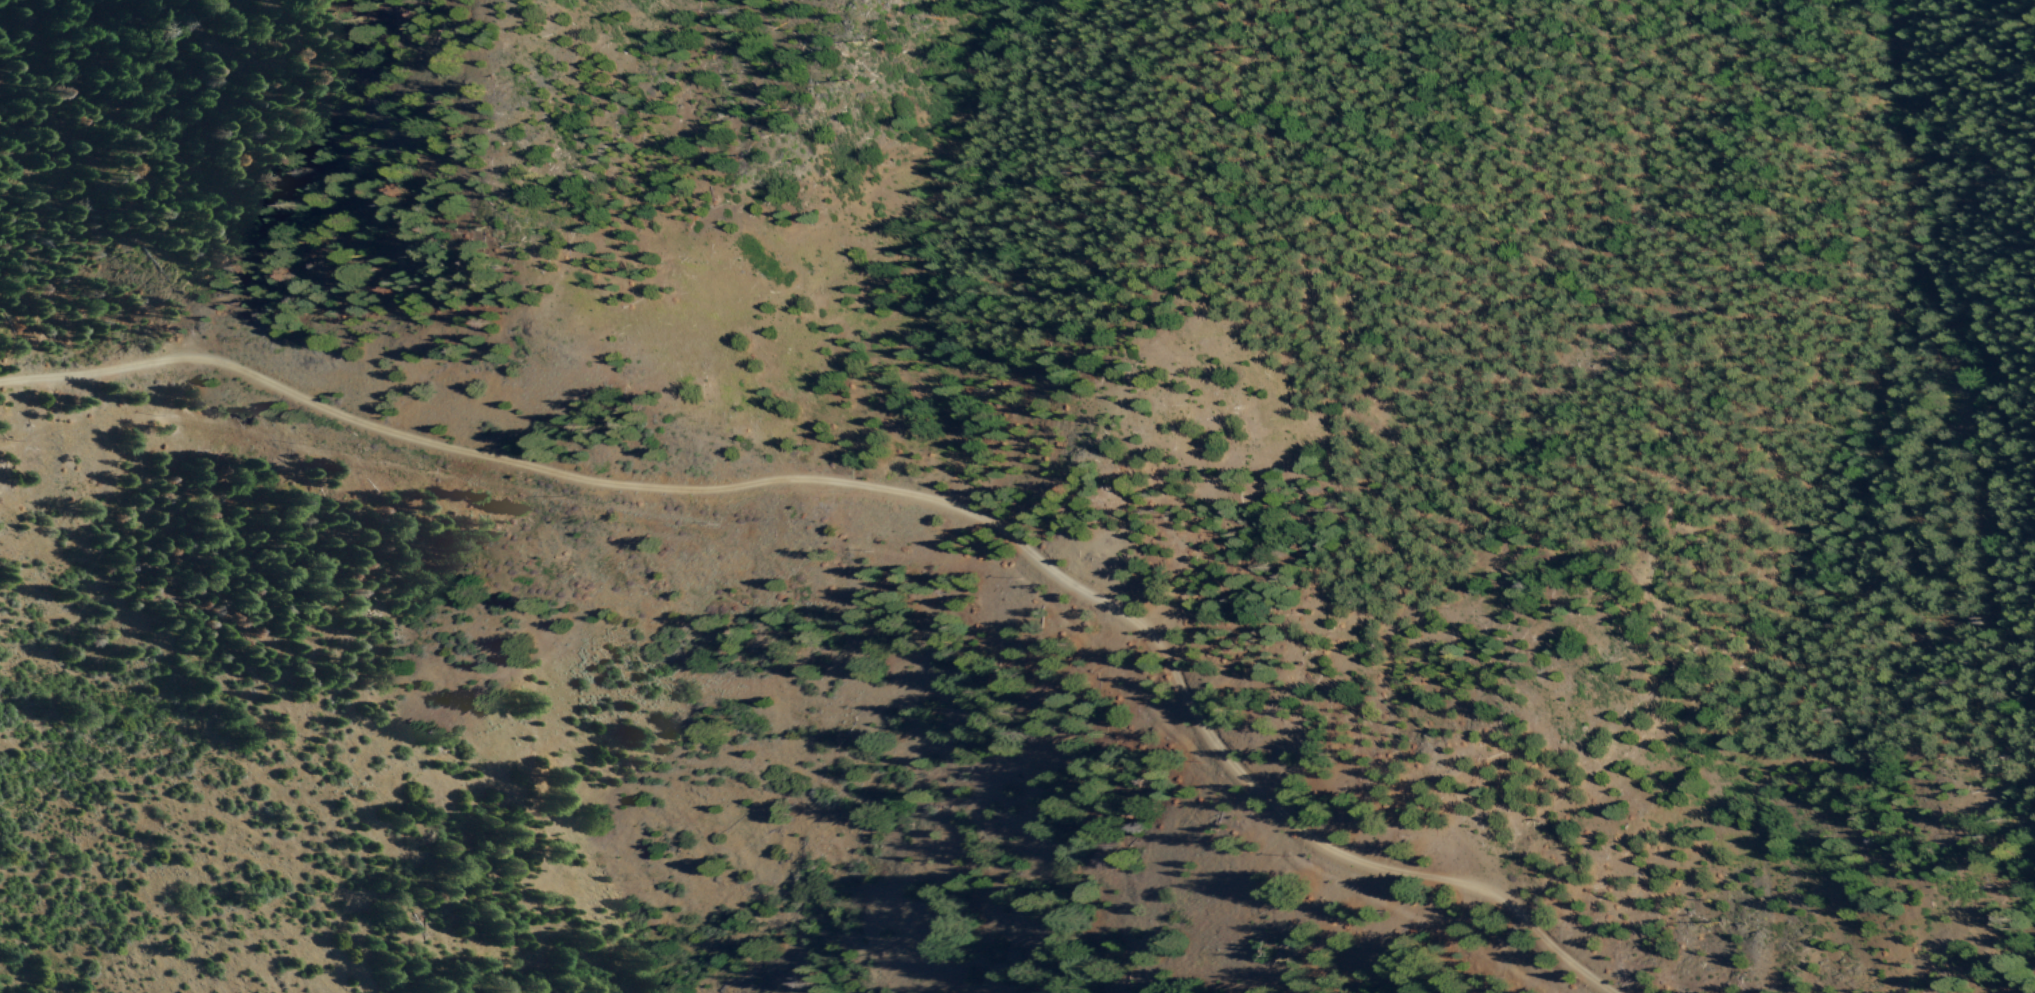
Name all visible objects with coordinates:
road: (879, 489)

